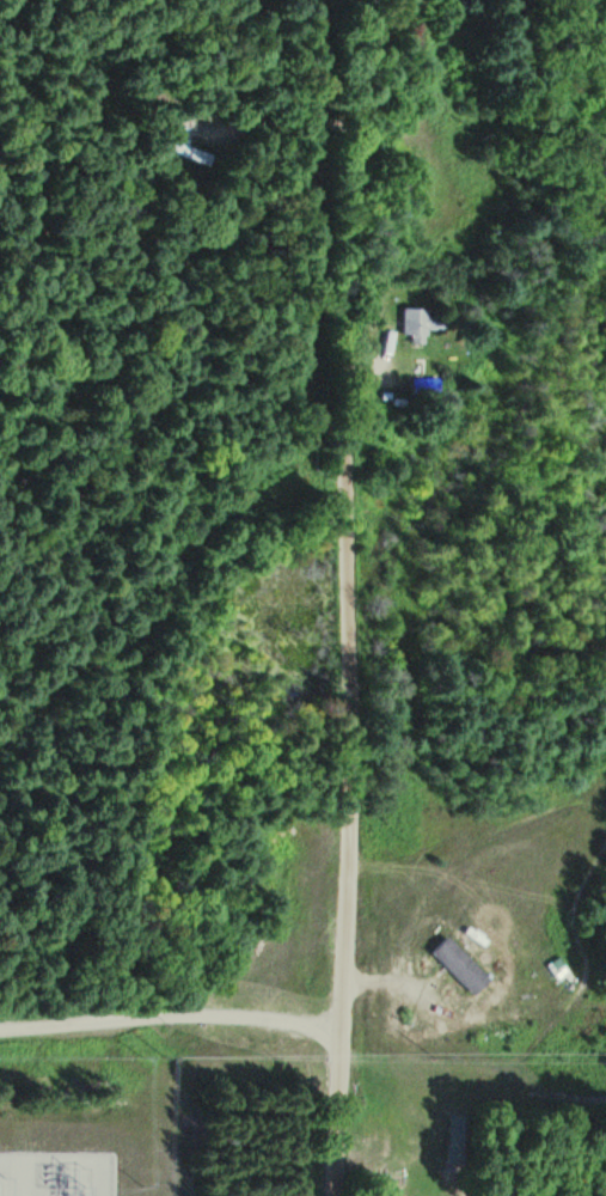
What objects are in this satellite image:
building: (192, 151)
building: (424, 324)
building: (429, 389)
road: (348, 598)
building: (452, 965)
road: (172, 1015)
power substation: (57, 1174)

